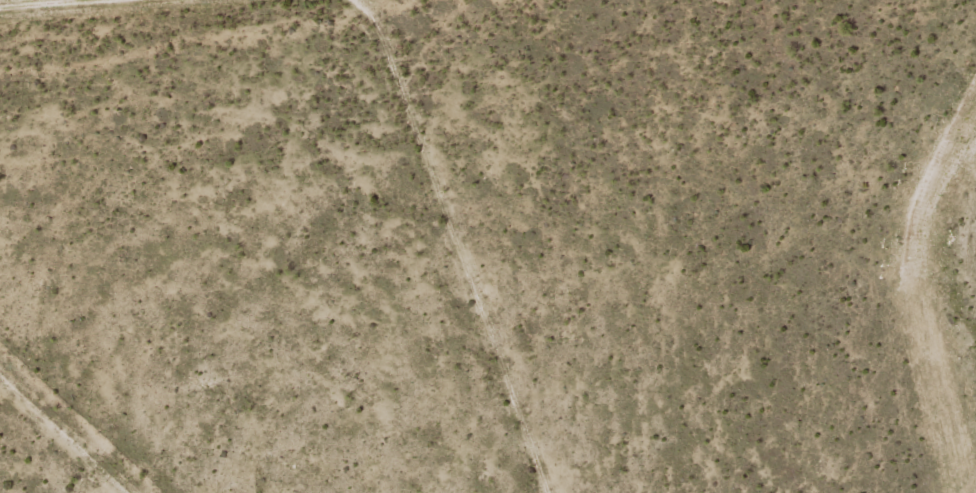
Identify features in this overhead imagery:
road: (502, 248)

